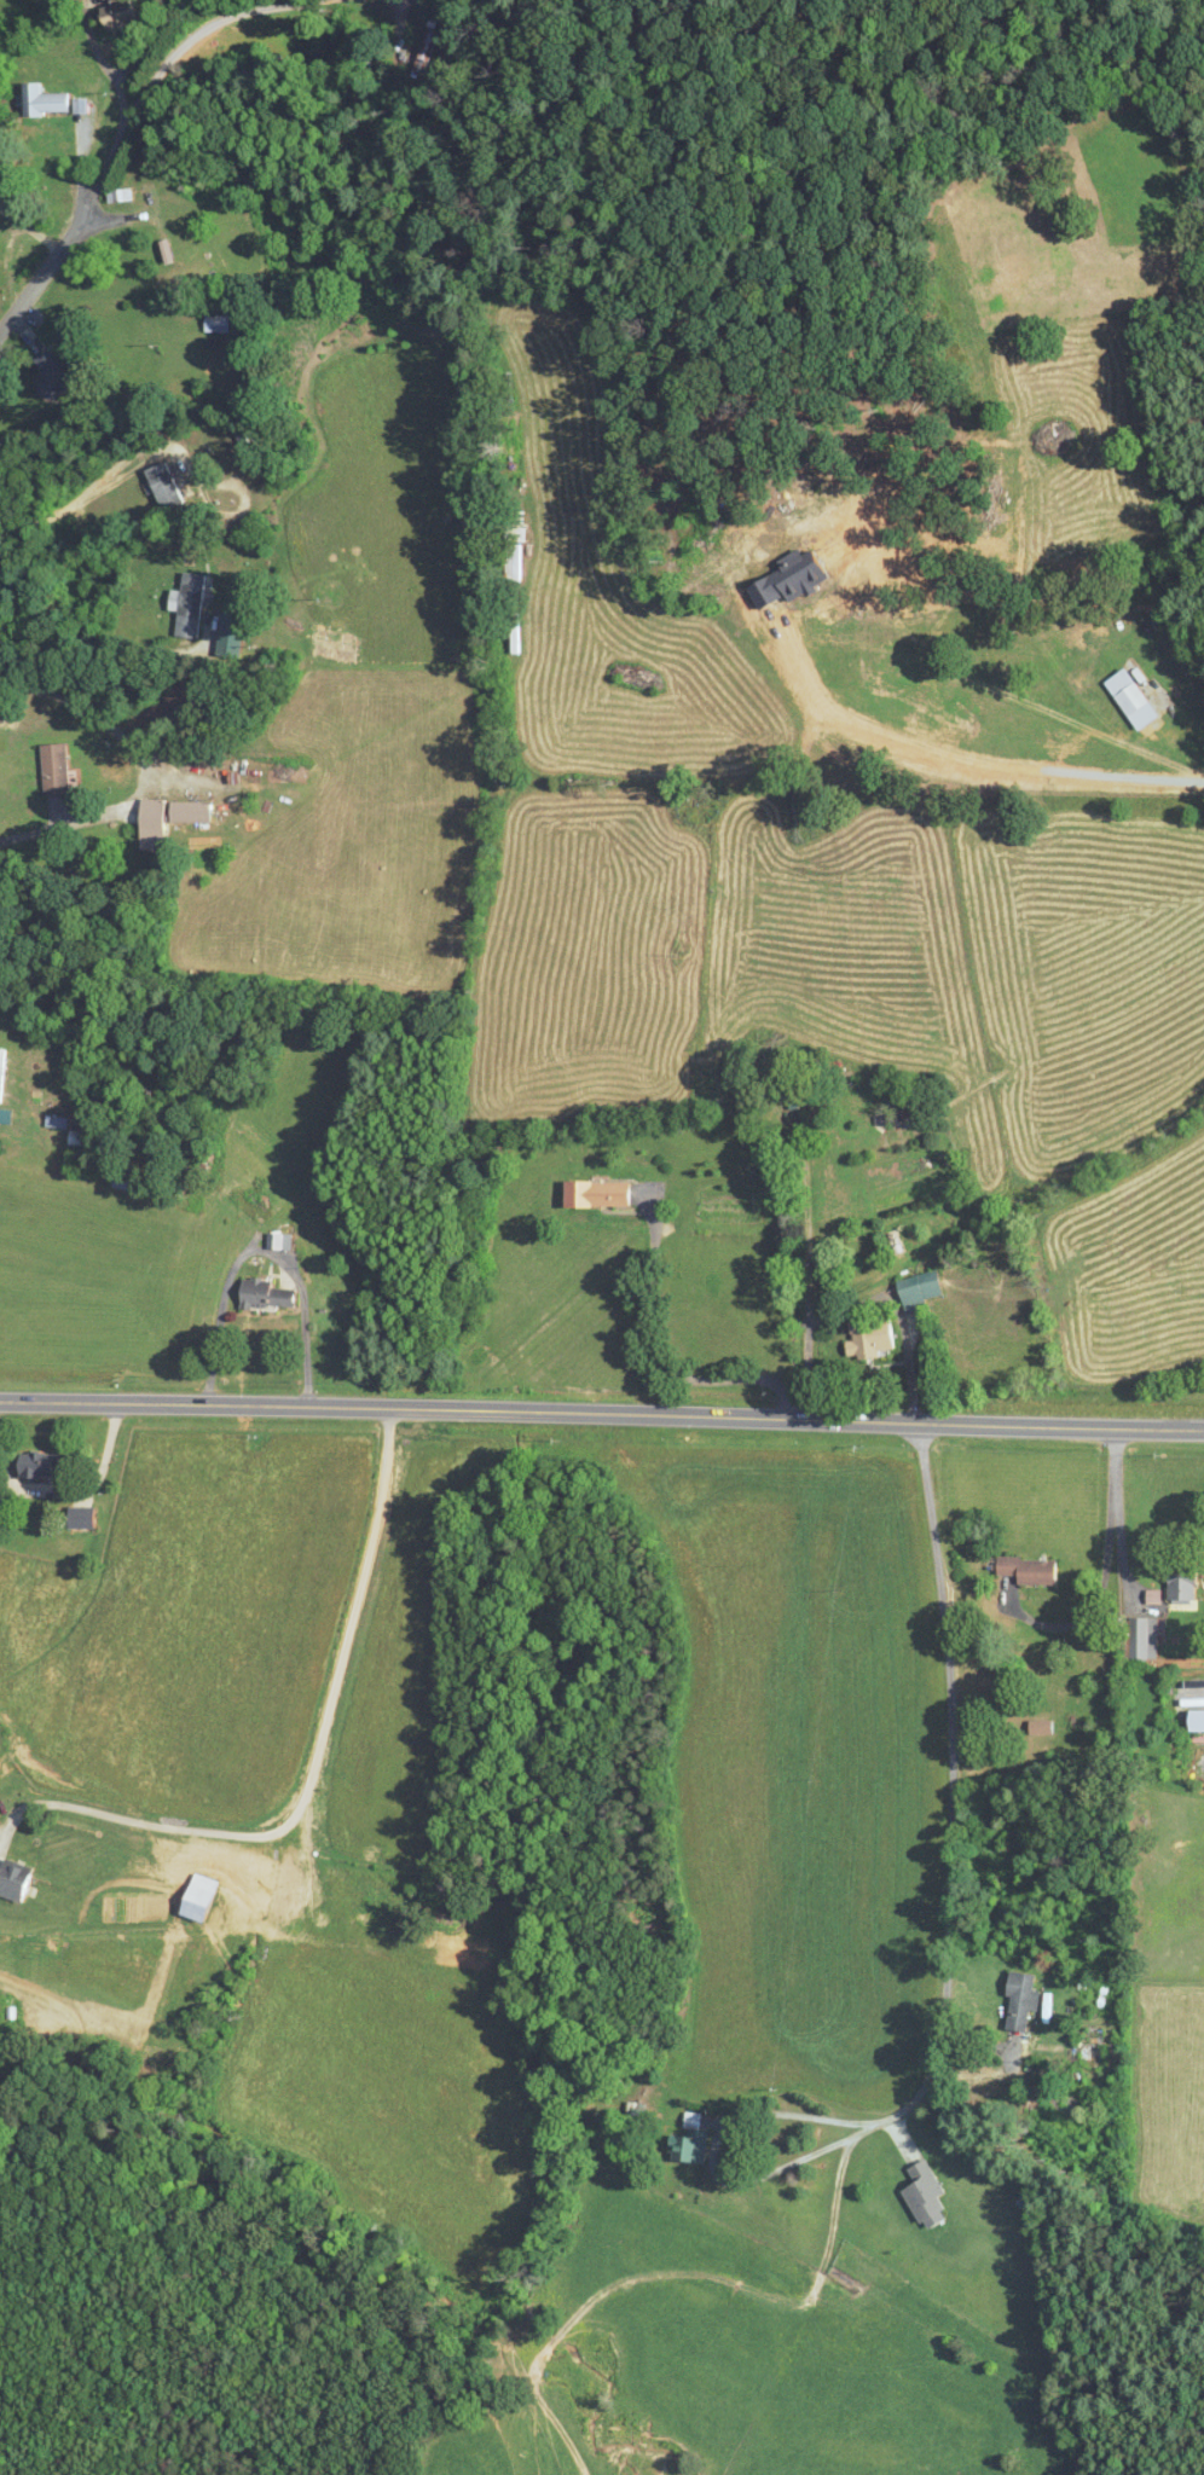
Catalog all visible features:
building: (114, 17)
road: (108, 69)
building: (44, 100)
road: (128, 126)
building: (140, 192)
building: (118, 196)
building: (213, 324)
building: (57, 373)
road: (99, 475)
building: (164, 487)
building: (187, 605)
building: (227, 634)
road: (1021, 699)
building: (1125, 700)
building: (58, 767)
road: (140, 769)
building: (170, 819)
building: (1, 1074)
building: (128, 1181)
building: (591, 1195)
building: (276, 1242)
building: (915, 1288)
building: (259, 1296)
building: (867, 1338)
road: (710, 1375)
road: (602, 1413)
building: (31, 1466)
building: (75, 1518)
building: (1025, 1571)
building: (1175, 1589)
building: (1037, 1728)
road: (313, 1763)
road: (953, 1786)
building: (12, 1880)
building: (193, 1899)
building: (1013, 2002)
building: (687, 2139)
building: (920, 2196)

